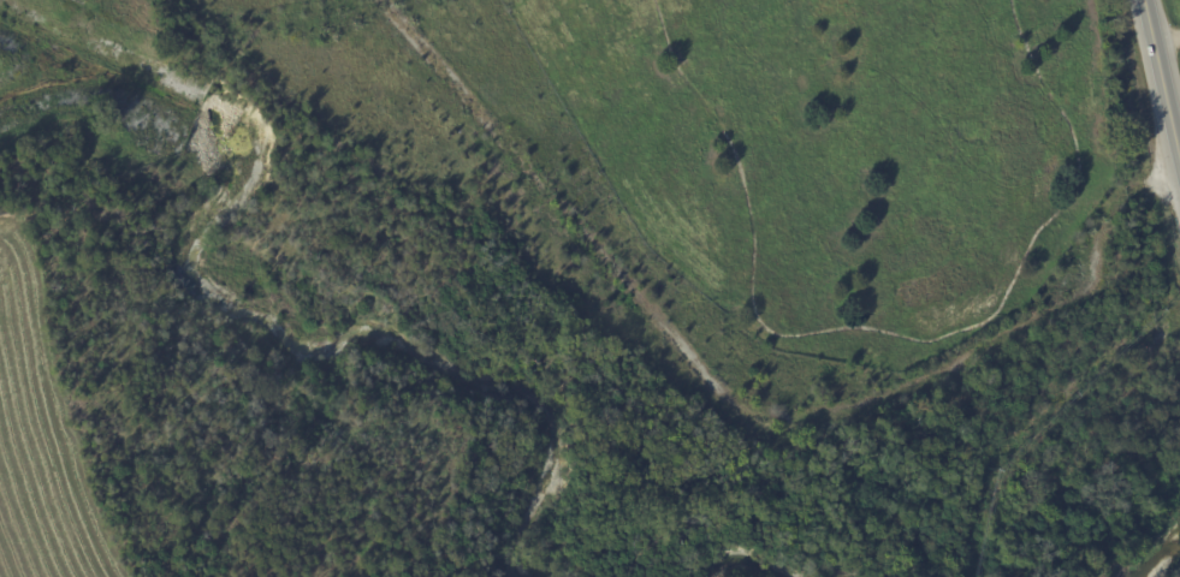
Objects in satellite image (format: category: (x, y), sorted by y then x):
road: (1167, 40)
road: (1162, 78)
airport: (580, 291)
river: (1162, 552)

